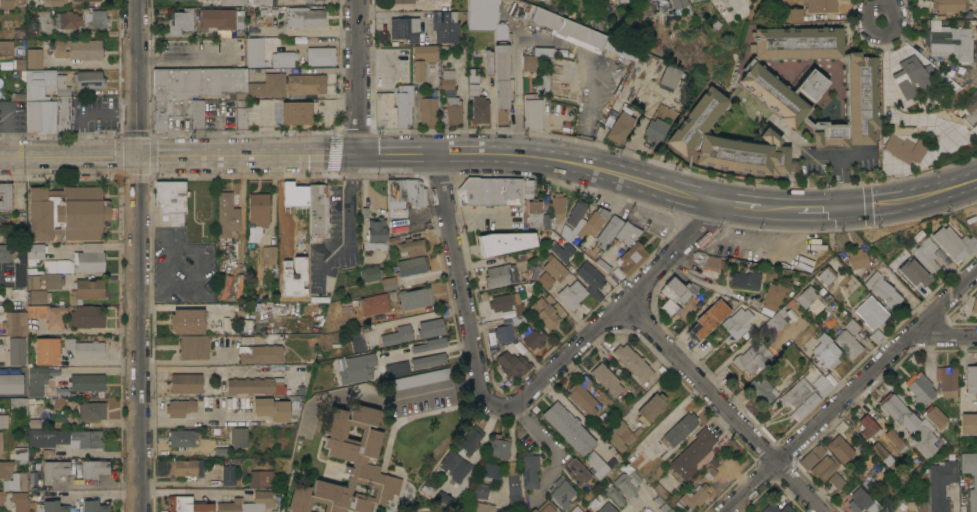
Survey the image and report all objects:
building: (83, 0)
building: (188, 0)
building: (692, 0)
building: (402, 1)
building: (430, 1)
building: (627, 1)
building: (50, 2)
building: (231, 2)
building: (264, 2)
building: (9, 3)
building: (599, 3)
building: (679, 3)
building: (821, 5)
building: (945, 5)
road: (881, 10)
building: (975, 10)
road: (391, 13)
building: (795, 15)
building: (305, 17)
building: (485, 17)
building: (98, 18)
building: (218, 18)
building: (66, 20)
building: (181, 20)
building: (445, 26)
building: (568, 27)
building: (405, 28)
road: (86, 32)
building: (947, 41)
building: (796, 42)
building: (6, 47)
building: (78, 49)
building: (915, 49)
building: (257, 52)
road: (184, 56)
building: (321, 56)
building: (535, 57)
building: (34, 58)
building: (283, 59)
building: (422, 59)
building: (489, 61)
building: (19, 63)
building: (908, 74)
building: (473, 75)
building: (669, 76)
road: (137, 78)
road: (359, 78)
building: (89, 79)
building: (447, 79)
building: (544, 80)
building: (501, 82)
building: (198, 83)
building: (306, 84)
building: (528, 84)
building: (809, 84)
building: (268, 86)
building: (770, 94)
building: (18, 96)
building: (618, 98)
building: (47, 103)
building: (403, 105)
building: (478, 105)
road: (885, 105)
building: (851, 106)
building: (427, 109)
building: (451, 109)
building: (968, 109)
building: (384, 110)
building: (170, 111)
building: (532, 111)
building: (294, 113)
building: (197, 114)
building: (241, 114)
building: (620, 127)
building: (655, 129)
building: (725, 141)
building: (903, 149)
road: (857, 153)
road: (824, 154)
road: (433, 155)
road: (68, 158)
traffic signals: (137, 158)
road: (842, 181)
building: (528, 188)
building: (490, 191)
building: (295, 193)
building: (404, 195)
building: (5, 196)
road: (917, 197)
building: (172, 199)
road: (741, 205)
building: (557, 206)
road: (348, 207)
building: (259, 208)
road: (778, 208)
road: (850, 208)
traffic signals: (856, 208)
building: (318, 209)
road: (821, 209)
building: (576, 212)
building: (68, 213)
building: (537, 215)
building: (229, 216)
building: (592, 222)
building: (395, 225)
building: (570, 231)
building: (608, 231)
building: (627, 232)
building: (376, 234)
building: (505, 242)
building: (955, 243)
road: (119, 245)
road: (90, 246)
road: (66, 247)
building: (90, 247)
building: (411, 248)
building: (561, 250)
building: (21, 252)
building: (35, 252)
building: (5, 253)
building: (925, 253)
building: (269, 254)
building: (632, 257)
building: (856, 259)
building: (706, 260)
building: (88, 262)
road: (200, 263)
building: (412, 265)
building: (58, 266)
building: (554, 267)
road: (169, 270)
building: (533, 270)
building: (370, 273)
building: (913, 273)
building: (500, 275)
building: (825, 276)
building: (21, 279)
building: (293, 279)
building: (590, 279)
building: (744, 279)
building: (52, 280)
building: (544, 280)
building: (32, 282)
building: (388, 283)
road: (461, 285)
building: (89, 288)
building: (883, 289)
building: (571, 293)
building: (675, 294)
building: (39, 296)
building: (804, 296)
building: (415, 298)
building: (769, 298)
building: (501, 302)
building: (374, 304)
building: (515, 304)
building: (974, 305)
building: (546, 311)
road: (616, 312)
building: (870, 312)
building: (86, 317)
road: (414, 318)
building: (13, 319)
building: (706, 319)
building: (774, 320)
building: (187, 321)
building: (736, 323)
building: (851, 326)
building: (430, 328)
building: (503, 333)
road: (138, 334)
building: (397, 335)
building: (534, 337)
road: (947, 337)
building: (357, 339)
building: (847, 343)
building: (430, 344)
building: (194, 346)
building: (85, 348)
building: (17, 351)
building: (46, 351)
building: (824, 352)
building: (260, 353)
building: (754, 355)
building: (428, 360)
road: (185, 361)
building: (514, 361)
building: (633, 363)
building: (358, 368)
building: (397, 368)
road: (94, 370)
building: (419, 379)
building: (606, 379)
building: (37, 380)
building: (946, 380)
building: (87, 382)
building: (190, 382)
building: (11, 383)
building: (258, 383)
building: (820, 385)
road: (425, 387)
building: (920, 388)
building: (968, 388)
building: (762, 389)
road: (850, 392)
building: (795, 393)
building: (583, 396)
building: (218, 403)
building: (207, 404)
building: (805, 405)
road: (723, 406)
building: (180, 407)
building: (271, 408)
building: (650, 408)
building: (91, 410)
building: (934, 415)
building: (3, 421)
building: (910, 423)
building: (968, 424)
building: (868, 426)
building: (568, 428)
building: (678, 431)
building: (239, 434)
building: (621, 435)
building: (68, 437)
building: (181, 438)
building: (894, 438)
building: (470, 440)
building: (0, 441)
road: (549, 445)
building: (499, 446)
building: (1, 447)
building: (840, 448)
building: (220, 452)
building: (692, 453)
building: (881, 453)
building: (21, 454)
building: (633, 456)
building: (811, 456)
building: (350, 457)
building: (595, 464)
building: (454, 466)
building: (186, 467)
building: (824, 467)
building: (55, 469)
building: (94, 469)
building: (528, 469)
building: (491, 470)
building: (575, 471)
building: (228, 475)
building: (12, 477)
building: (260, 478)
building: (836, 480)
building: (975, 481)
building: (942, 484)
building: (623, 486)
road: (191, 490)
building: (479, 490)
building: (513, 490)
building: (561, 490)
building: (659, 490)
road: (100, 495)
building: (2, 497)
building: (693, 497)
building: (658, 500)
building: (19, 501)
building: (861, 502)
building: (249, 503)
building: (187, 504)
building: (94, 506)
building: (917, 506)
building: (52, 507)
building: (477, 507)
building: (544, 507)
building: (607, 508)
building: (627, 508)
building: (665, 508)
building: (777, 508)

